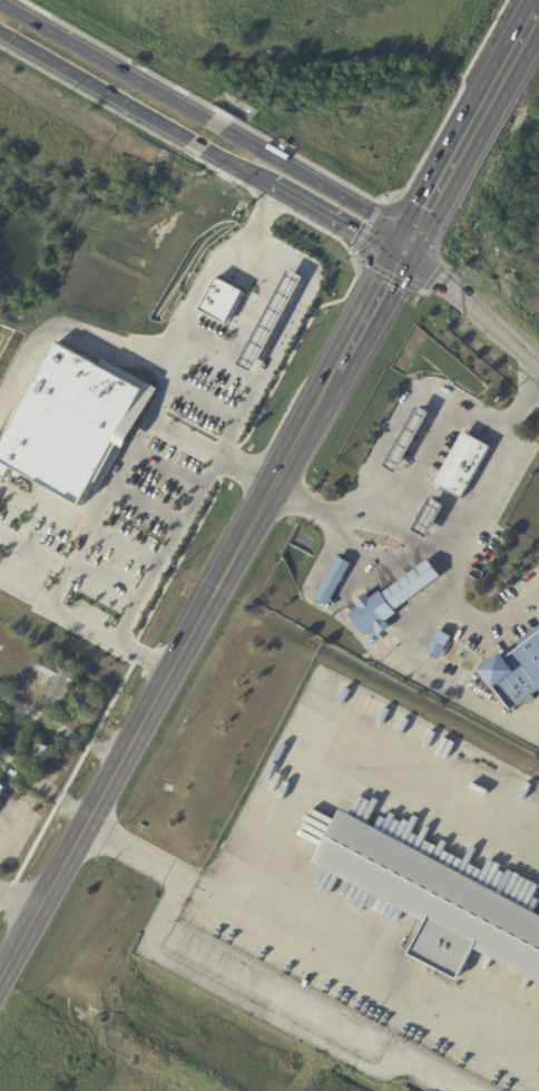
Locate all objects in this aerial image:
road: (104, 60)
road: (95, 86)
road: (216, 124)
road: (474, 129)
road: (198, 144)
road: (246, 172)
road: (321, 181)
road: (345, 225)
traffic signals: (410, 246)
road: (438, 271)
building: (222, 298)
road: (374, 308)
building: (271, 319)
road: (249, 322)
road: (502, 327)
road: (75, 328)
road: (285, 334)
road: (519, 405)
road: (479, 418)
building: (69, 419)
road: (390, 434)
building: (411, 439)
road: (131, 454)
road: (212, 454)
road: (169, 465)
building: (464, 466)
parking lot: (127, 500)
road: (149, 501)
building: (433, 518)
road: (38, 545)
road: (127, 545)
road: (166, 547)
road: (435, 547)
building: (335, 581)
road: (107, 582)
building: (394, 600)
building: (441, 644)
road: (174, 672)
building: (517, 673)
building: (58, 683)
building: (2, 713)
road: (61, 729)
road: (341, 736)
building: (41, 754)
building: (2, 791)
road: (156, 859)
road: (17, 895)
building: (435, 900)
road: (382, 977)

